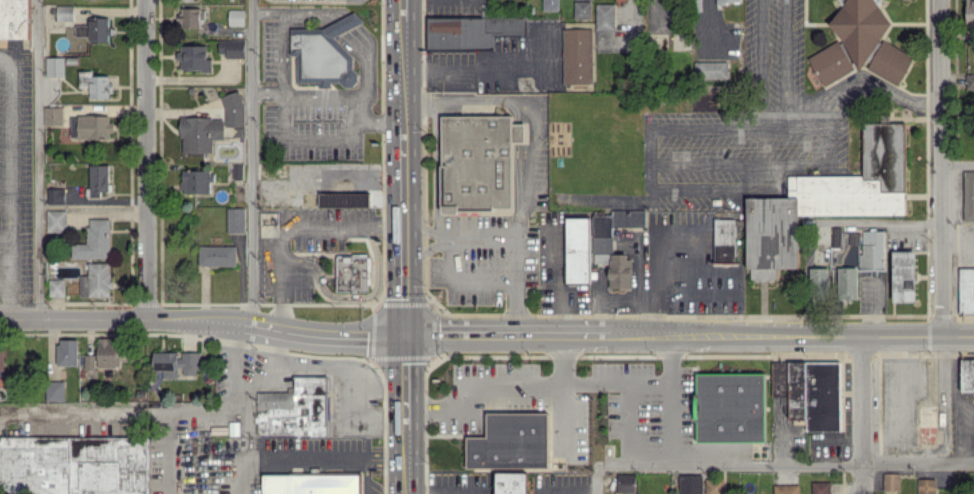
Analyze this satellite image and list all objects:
building: (189, 0)
building: (728, 1)
building: (550, 5)
building: (582, 9)
road: (267, 10)
road: (400, 10)
building: (969, 10)
building: (64, 12)
building: (605, 16)
building: (189, 17)
building: (236, 17)
building: (12, 19)
building: (99, 29)
building: (81, 30)
building: (470, 31)
building: (869, 39)
building: (231, 48)
building: (324, 53)
road: (283, 54)
building: (577, 55)
road: (758, 56)
road: (782, 57)
building: (194, 58)
building: (830, 64)
building: (55, 66)
building: (710, 69)
road: (401, 72)
building: (969, 81)
road: (847, 83)
building: (95, 84)
road: (334, 97)
building: (53, 115)
building: (211, 125)
building: (90, 126)
road: (306, 140)
road: (531, 156)
road: (38, 159)
road: (146, 159)
road: (250, 161)
building: (478, 161)
road: (958, 165)
road: (943, 168)
building: (98, 180)
building: (196, 181)
road: (10, 185)
building: (55, 195)
building: (968, 195)
building: (343, 199)
building: (826, 200)
building: (236, 219)
building: (56, 220)
road: (880, 221)
road: (294, 227)
road: (403, 230)
road: (424, 230)
road: (5, 235)
road: (458, 236)
building: (836, 236)
building: (723, 240)
building: (94, 241)
building: (602, 244)
building: (577, 249)
building: (871, 249)
building: (217, 255)
road: (301, 259)
building: (619, 270)
building: (352, 272)
building: (903, 275)
road: (5, 279)
building: (96, 280)
building: (817, 280)
road: (464, 282)
building: (847, 282)
building: (56, 287)
building: (966, 290)
road: (372, 292)
road: (202, 320)
traffic signals: (404, 334)
road: (506, 334)
road: (791, 337)
building: (67, 351)
building: (108, 354)
building: (2, 359)
building: (89, 361)
building: (176, 363)
building: (967, 374)
road: (275, 375)
road: (404, 381)
road: (352, 383)
road: (616, 384)
road: (478, 389)
building: (55, 390)
road: (379, 390)
building: (809, 392)
road: (560, 398)
road: (672, 399)
road: (960, 400)
building: (729, 406)
building: (295, 408)
road: (159, 414)
road: (865, 416)
road: (630, 423)
building: (510, 441)
road: (309, 460)
road: (406, 461)
road: (786, 463)
building: (73, 465)
road: (366, 476)
road: (598, 478)
building: (891, 481)
building: (625, 482)
building: (511, 483)
building: (690, 483)
building: (311, 484)
building: (926, 485)
building: (820, 487)
building: (786, 489)
road: (444, 492)

